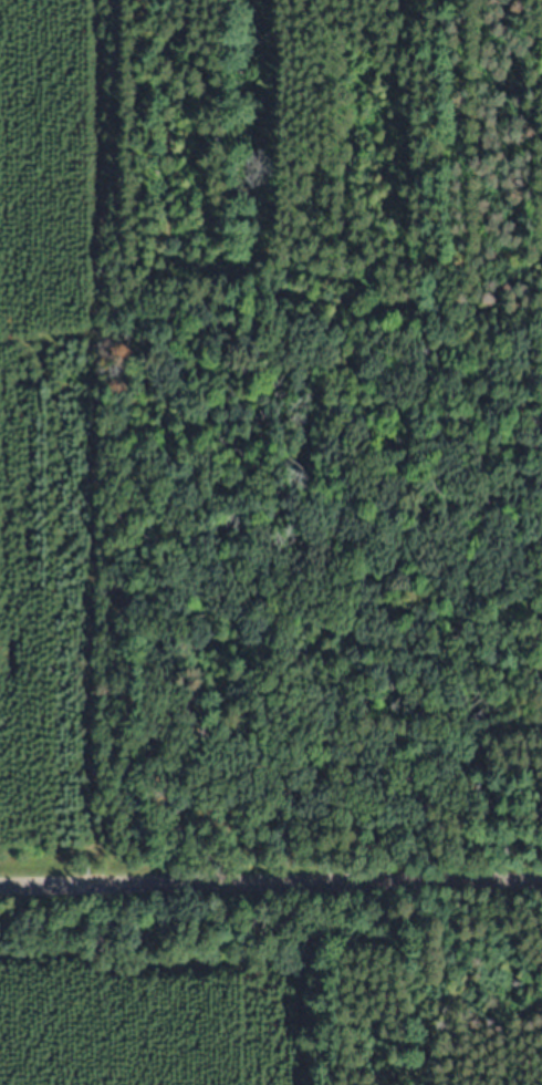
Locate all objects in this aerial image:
road: (270, 879)

